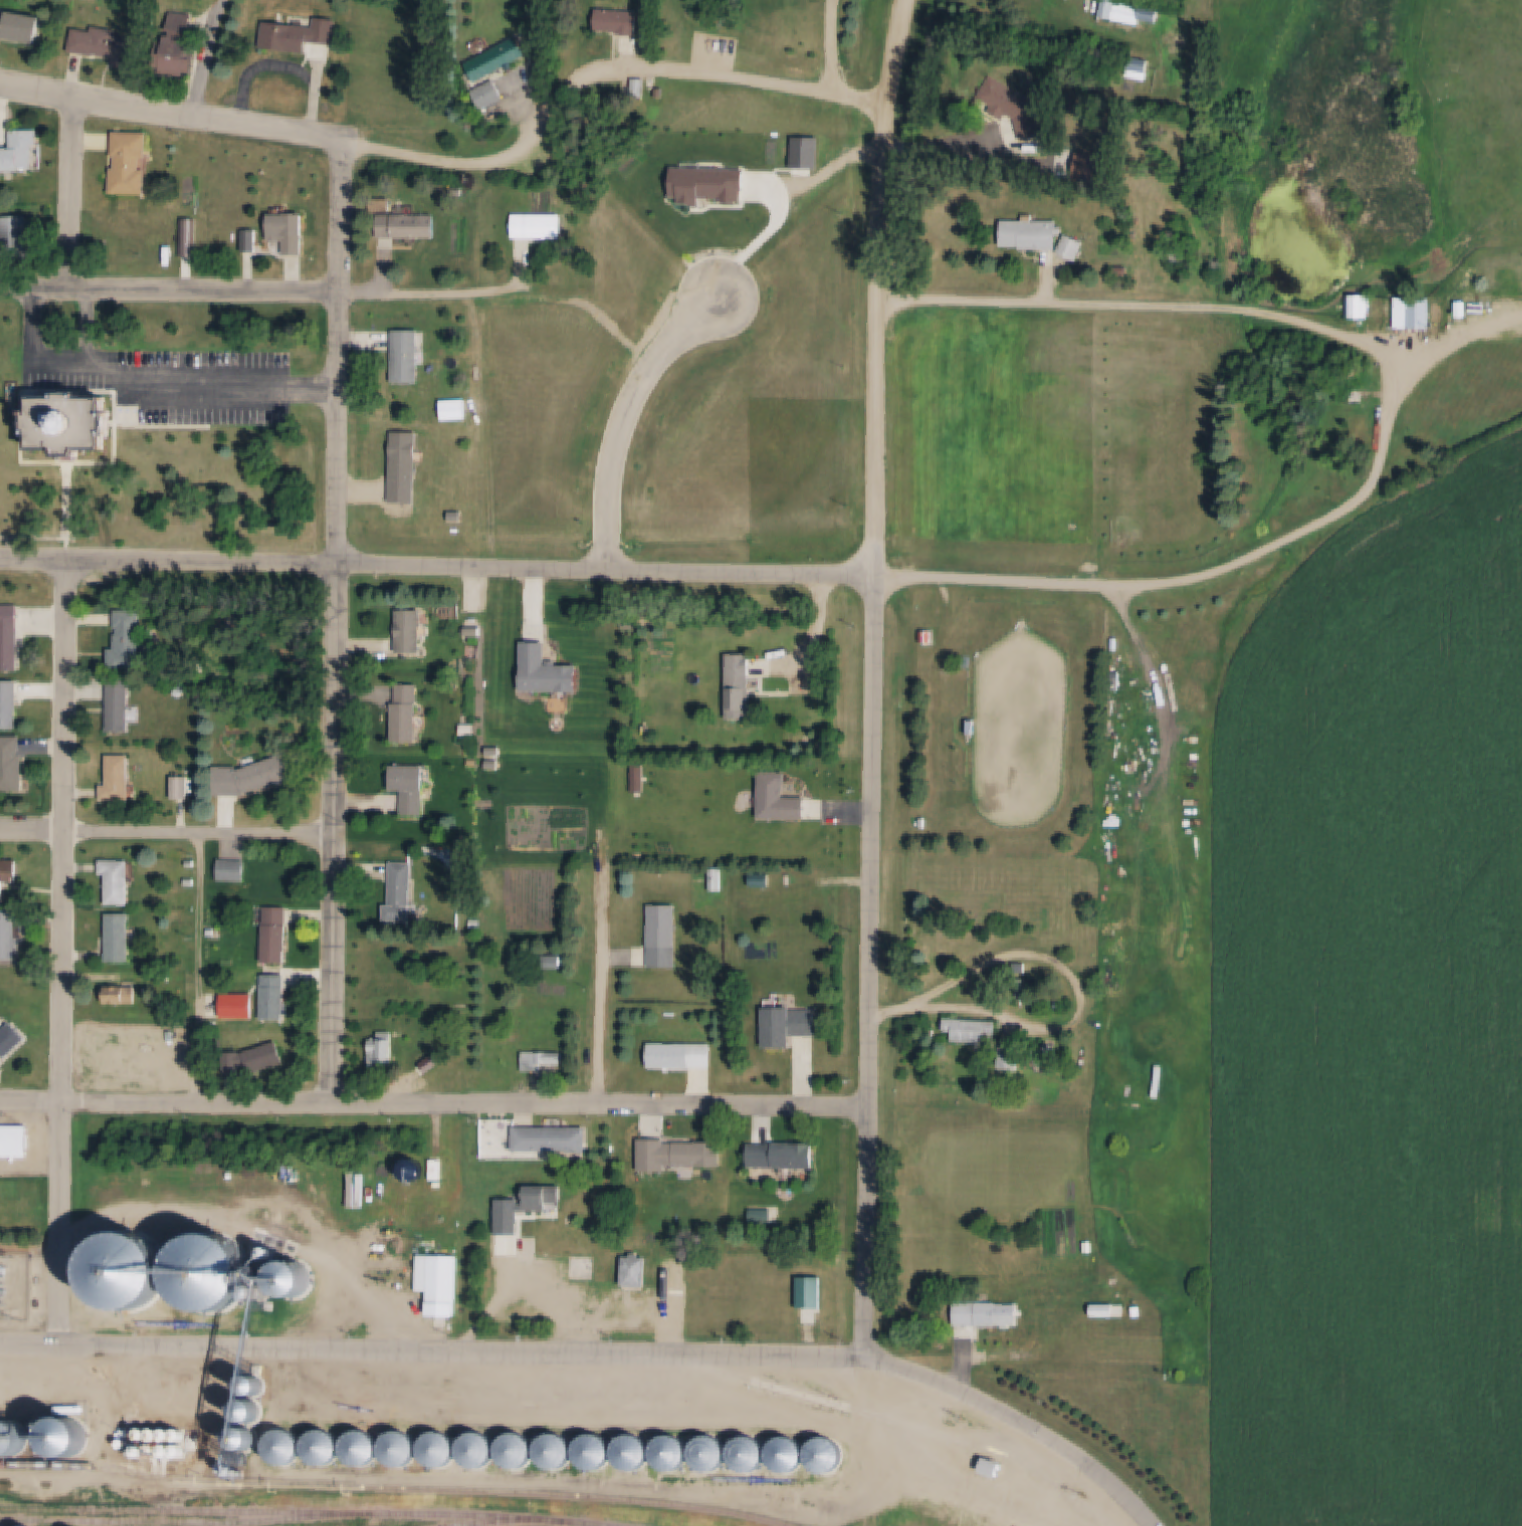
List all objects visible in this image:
building: (1107, 8)
building: (1126, 12)
building: (1148, 14)
building: (620, 20)
building: (24, 26)
building: (300, 34)
building: (182, 42)
building: (113, 45)
road: (826, 45)
road: (894, 56)
building: (501, 58)
road: (289, 64)
building: (1136, 67)
road: (600, 75)
building: (492, 95)
building: (1014, 106)
road: (173, 116)
road: (963, 148)
building: (22, 152)
building: (135, 162)
building: (1089, 174)
road: (75, 194)
building: (411, 224)
building: (541, 226)
building: (293, 231)
building: (1026, 233)
building: (188, 237)
building: (252, 240)
building: (18, 241)
building: (114, 245)
building: (1068, 247)
road: (372, 283)
road: (171, 289)
road: (463, 293)
building: (1356, 306)
building: (1416, 312)
building: (1376, 313)
road: (1455, 342)
road: (884, 346)
building: (409, 357)
road: (57, 368)
parking lot: (193, 382)
road: (205, 384)
building: (456, 410)
road: (616, 418)
building: (71, 424)
road: (1396, 430)
building: (406, 457)
building: (137, 510)
road: (439, 566)
building: (634, 623)
road: (337, 624)
building: (475, 630)
building: (413, 631)
building: (927, 636)
building: (131, 641)
building: (10, 646)
building: (550, 671)
building: (736, 685)
building: (11, 705)
building: (122, 706)
building: (410, 713)
building: (970, 727)
building: (470, 730)
building: (963, 730)
building: (1112, 760)
building: (14, 764)
building: (256, 777)
building: (123, 778)
building: (184, 787)
building: (415, 788)
building: (775, 799)
building: (924, 823)
road: (168, 831)
building: (193, 864)
building: (1164, 870)
building: (235, 871)
building: (716, 880)
building: (759, 880)
building: (10, 881)
building: (122, 883)
building: (191, 883)
building: (404, 893)
building: (477, 925)
building: (213, 934)
building: (11, 935)
building: (277, 935)
building: (665, 937)
building: (121, 939)
road: (64, 951)
road: (616, 957)
building: (558, 962)
road: (198, 966)
road: (603, 966)
road: (875, 966)
building: (160, 977)
building: (125, 996)
building: (278, 998)
road: (1086, 1010)
building: (783, 1026)
building: (965, 1029)
building: (11, 1040)
building: (1046, 1049)
building: (387, 1051)
building: (682, 1055)
building: (110, 1058)
building: (1007, 1058)
building: (259, 1060)
building: (433, 1062)
building: (545, 1063)
road: (436, 1102)
building: (556, 1139)
building: (16, 1142)
building: (679, 1154)
building: (778, 1156)
building: (413, 1170)
silo: (413, 1170)
building: (437, 1171)
building: (346, 1180)
building: (544, 1198)
road: (251, 1219)
building: (1089, 1244)
building: (640, 1270)
building: (134, 1273)
silo: (134, 1273)
building: (219, 1274)
silo: (219, 1274)
building: (299, 1282)
silo: (299, 1282)
building: (441, 1283)
building: (1106, 1310)
building: (987, 1313)
road: (436, 1348)
building: (201, 1397)
building: (254, 1413)
silo: (254, 1413)
building: (216, 1422)
road: (1025, 1422)
building: (149, 1436)
silo: (149, 1436)
building: (162, 1437)
silo: (162, 1437)
building: (174, 1437)
silo: (174, 1437)
building: (187, 1437)
silo: (187, 1437)
building: (72, 1439)
silo: (72, 1439)
building: (13, 1440)
silo: (13, 1440)
building: (249, 1440)
silo: (249, 1440)
building: (289, 1448)
silo: (289, 1448)
building: (328, 1449)
silo: (328, 1449)
building: (367, 1449)
silo: (367, 1449)
building: (149, 1450)
silo: (149, 1450)
building: (405, 1450)
silo: (405, 1450)
building: (444, 1450)
silo: (444, 1450)
building: (161, 1451)
silo: (161, 1451)
building: (174, 1451)
silo: (174, 1451)
building: (187, 1451)
silo: (187, 1451)
building: (482, 1451)
silo: (482, 1451)
building: (521, 1451)
silo: (521, 1451)
building: (560, 1452)
silo: (560, 1452)
building: (599, 1453)
silo: (599, 1453)
building: (637, 1454)
silo: (637, 1454)
building: (675, 1454)
silo: (675, 1454)
building: (713, 1454)
silo: (713, 1454)
building: (751, 1455)
silo: (751, 1455)
building: (790, 1455)
silo: (790, 1455)
building: (828, 1455)
silo: (828, 1455)
building: (992, 1467)
building: (983, 1470)
railway: (399, 1487)
railway: (301, 1511)
railway: (180, 1521)
railway: (497, 1522)

